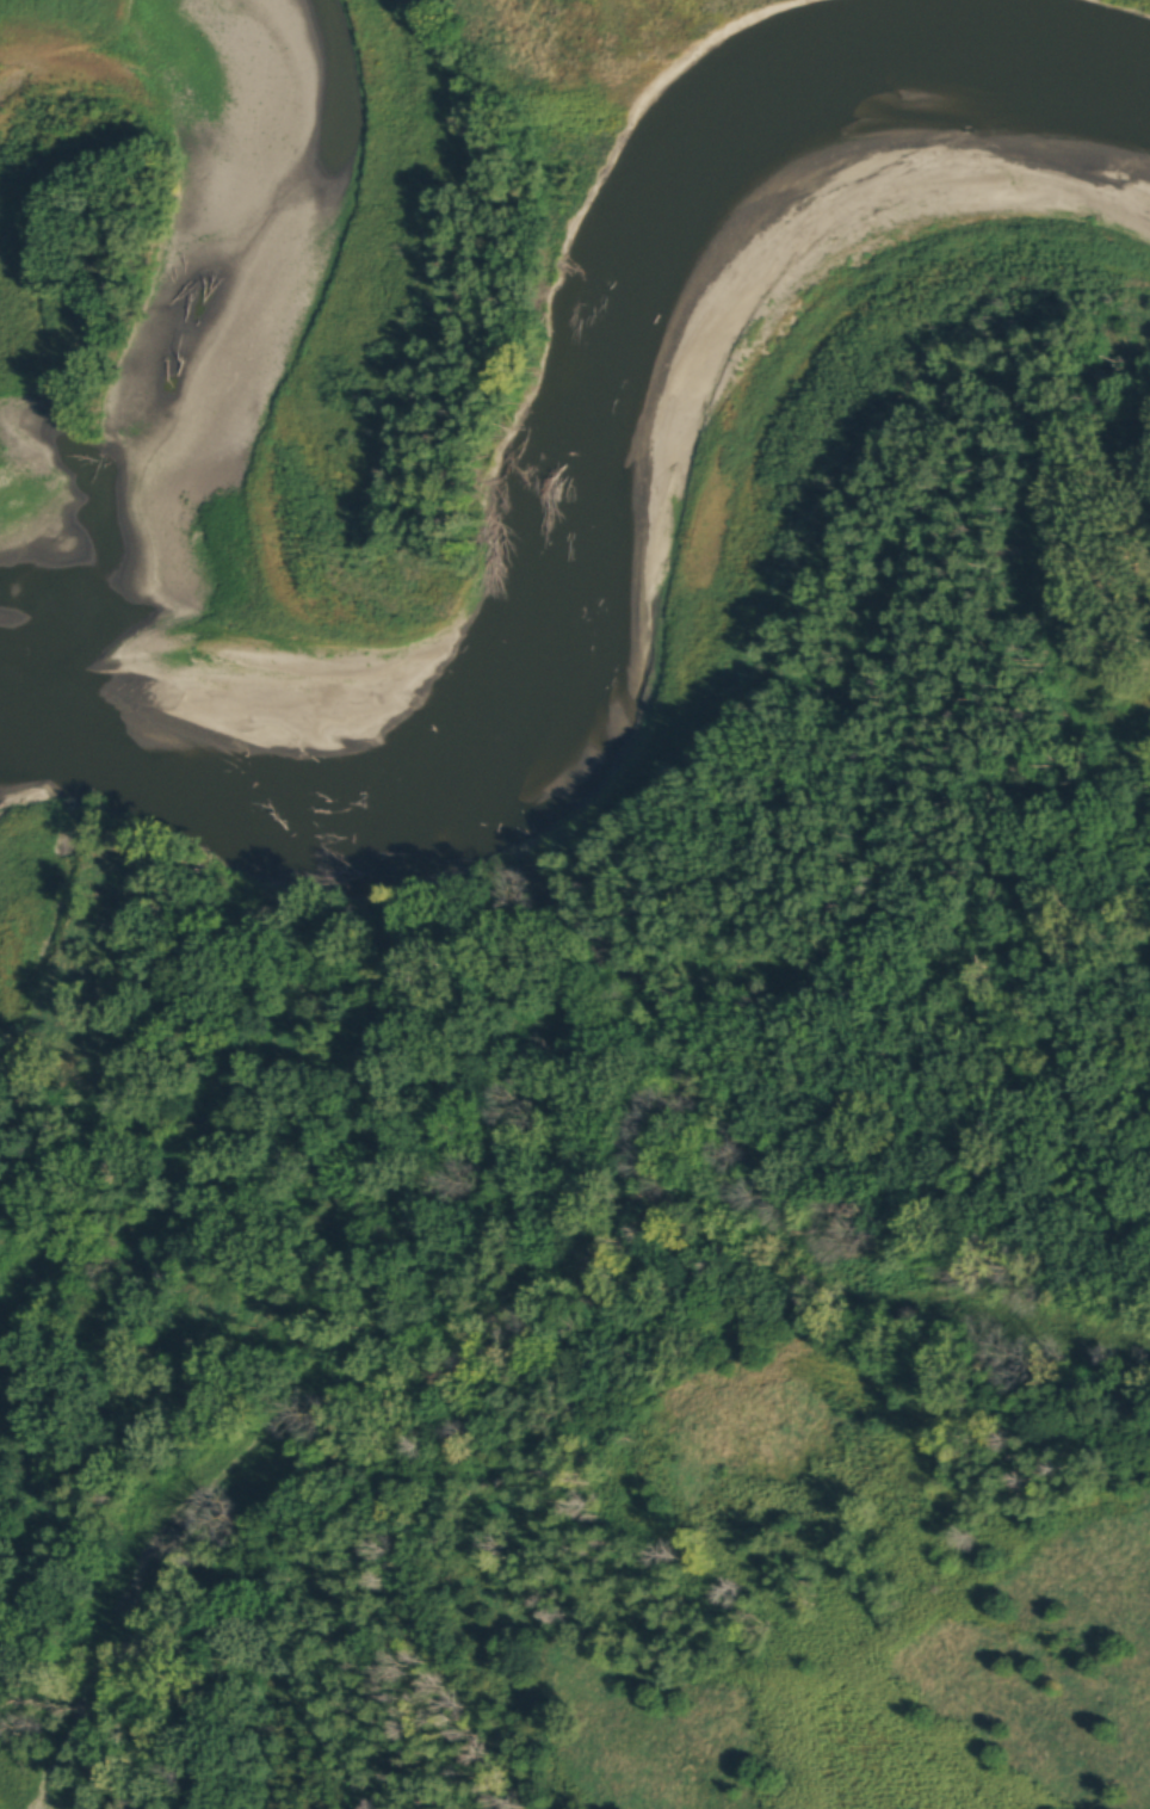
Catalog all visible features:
river: (4, 619)
river: (508, 753)

